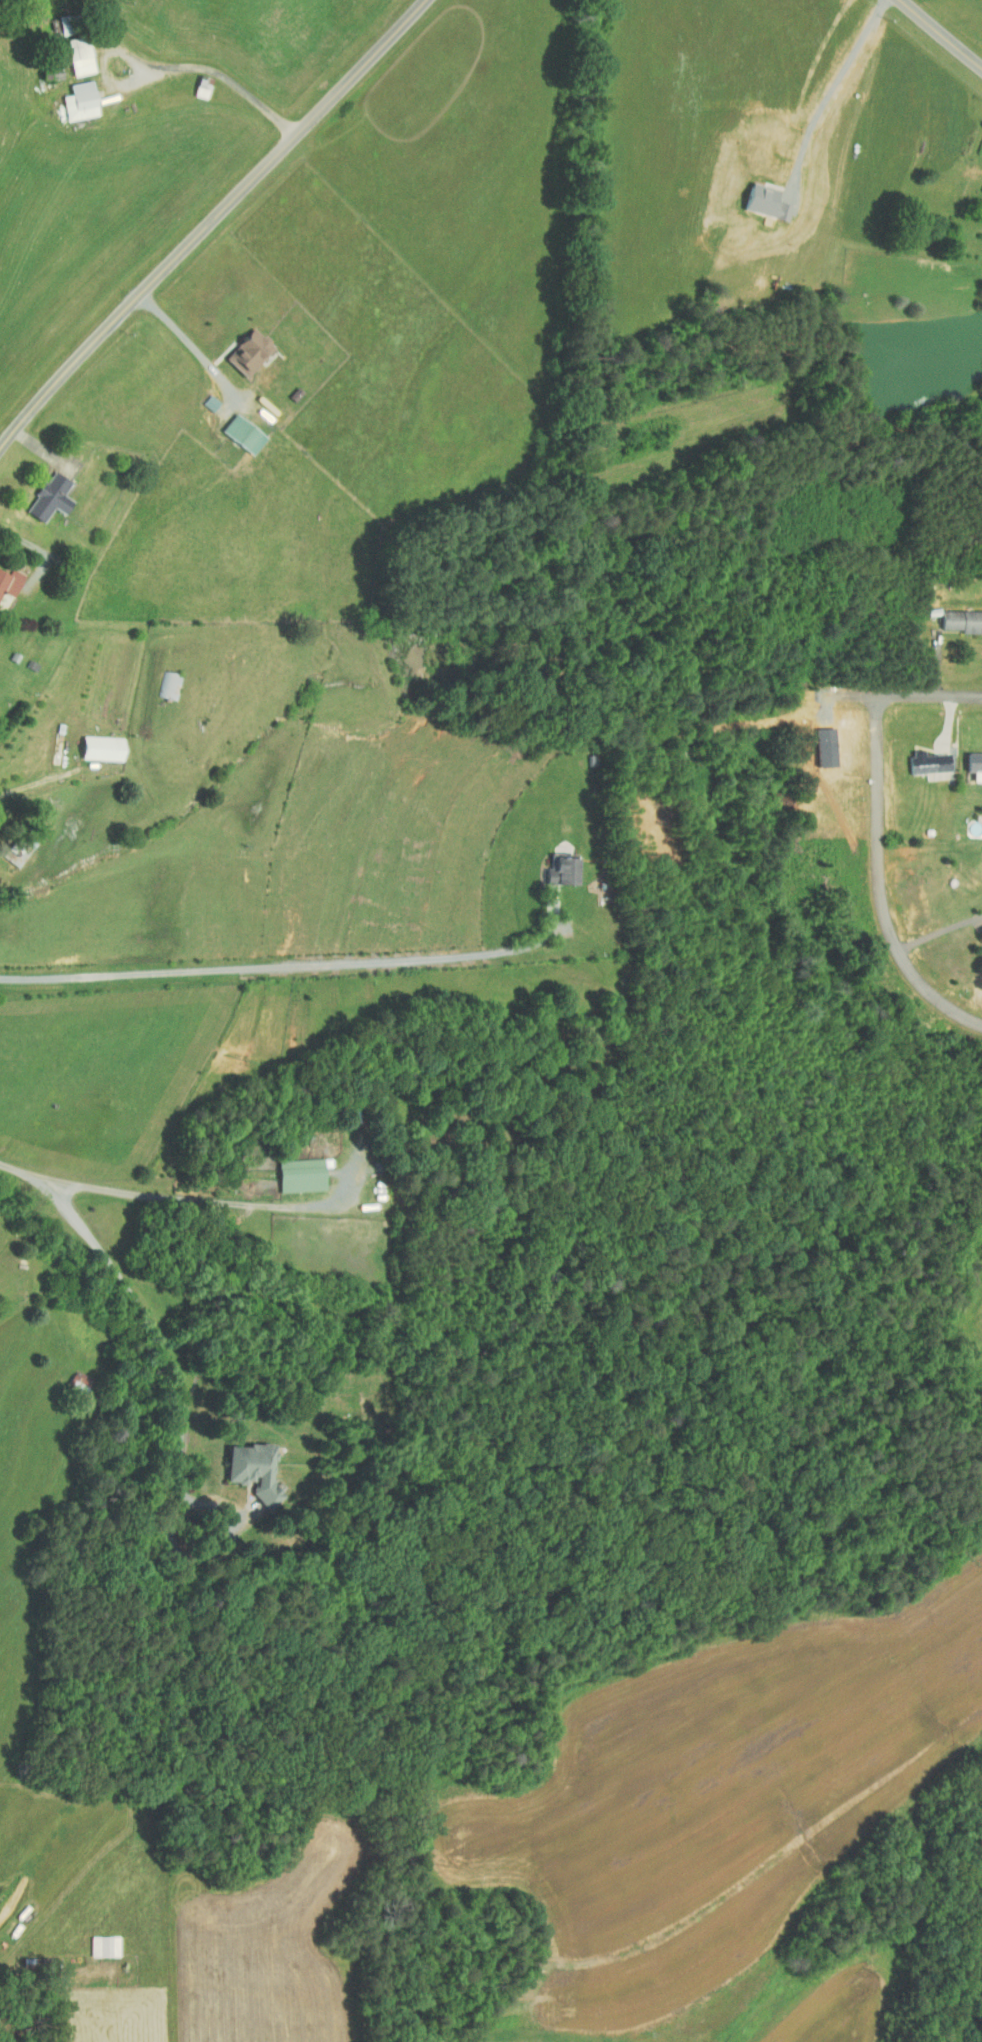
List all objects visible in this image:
road: (944, 30)
building: (71, 50)
road: (214, 73)
road: (830, 89)
building: (72, 96)
building: (979, 181)
road: (209, 220)
building: (979, 258)
road: (190, 341)
building: (240, 347)
building: (234, 429)
building: (41, 492)
road: (40, 551)
building: (5, 576)
building: (958, 615)
road: (929, 695)
building: (93, 743)
building: (914, 759)
building: (970, 760)
road: (48, 778)
building: (11, 844)
building: (554, 864)
road: (880, 881)
road: (940, 933)
road: (291, 968)
building: (292, 1169)
road: (162, 1200)
road: (163, 1346)
building: (67, 1374)
building: (245, 1465)
building: (95, 1940)

